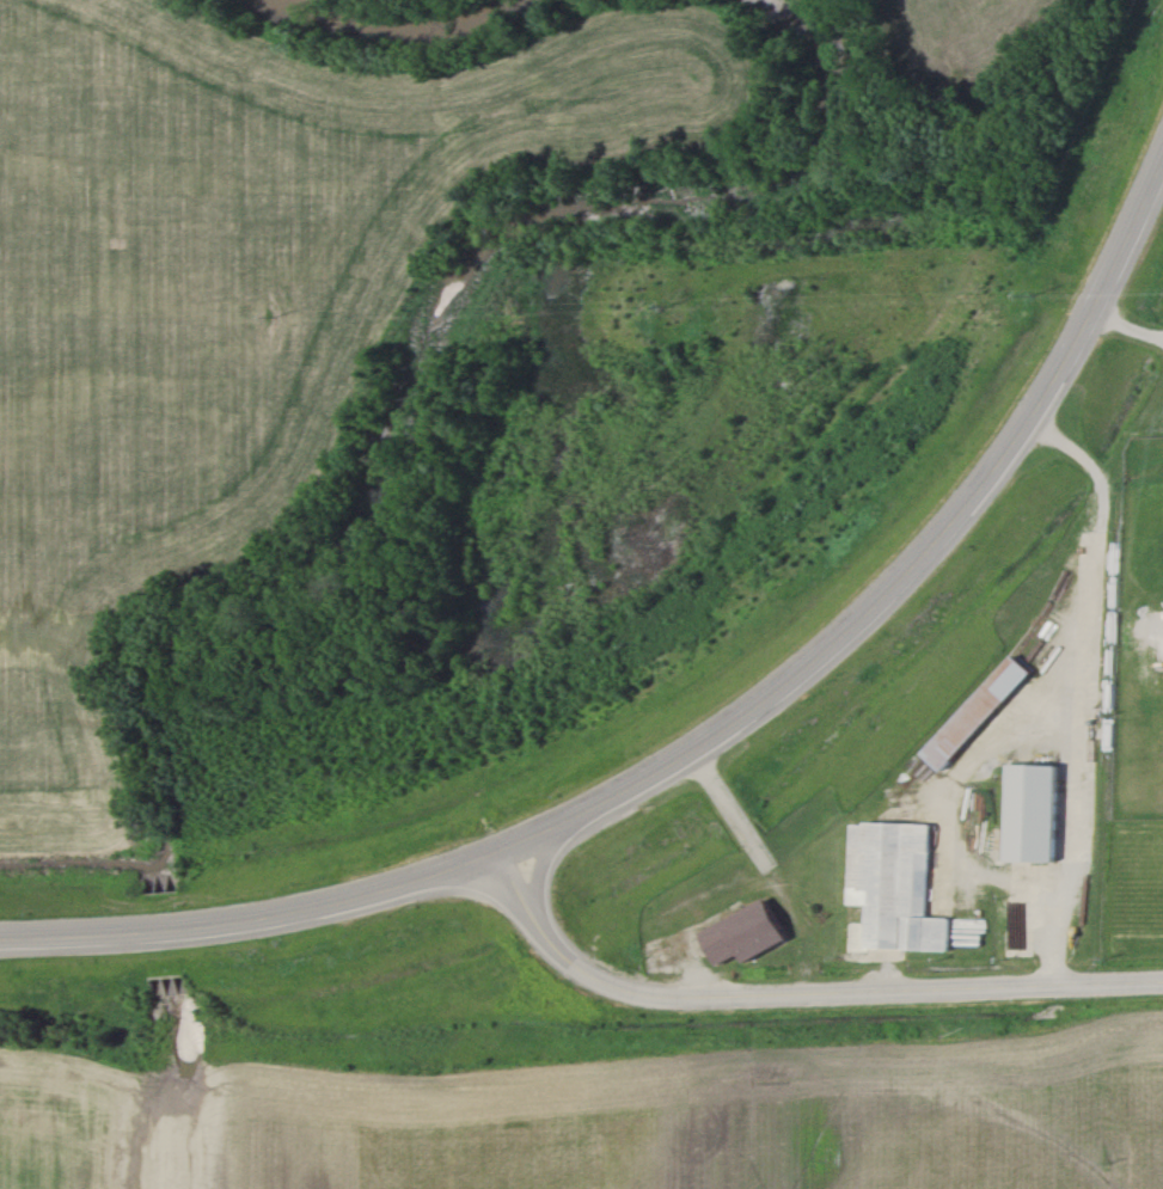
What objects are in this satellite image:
crop: (233, 311)
building: (967, 713)
road: (706, 738)
building: (1023, 814)
building: (889, 888)
building: (735, 936)
road: (798, 993)
crop: (600, 1121)

